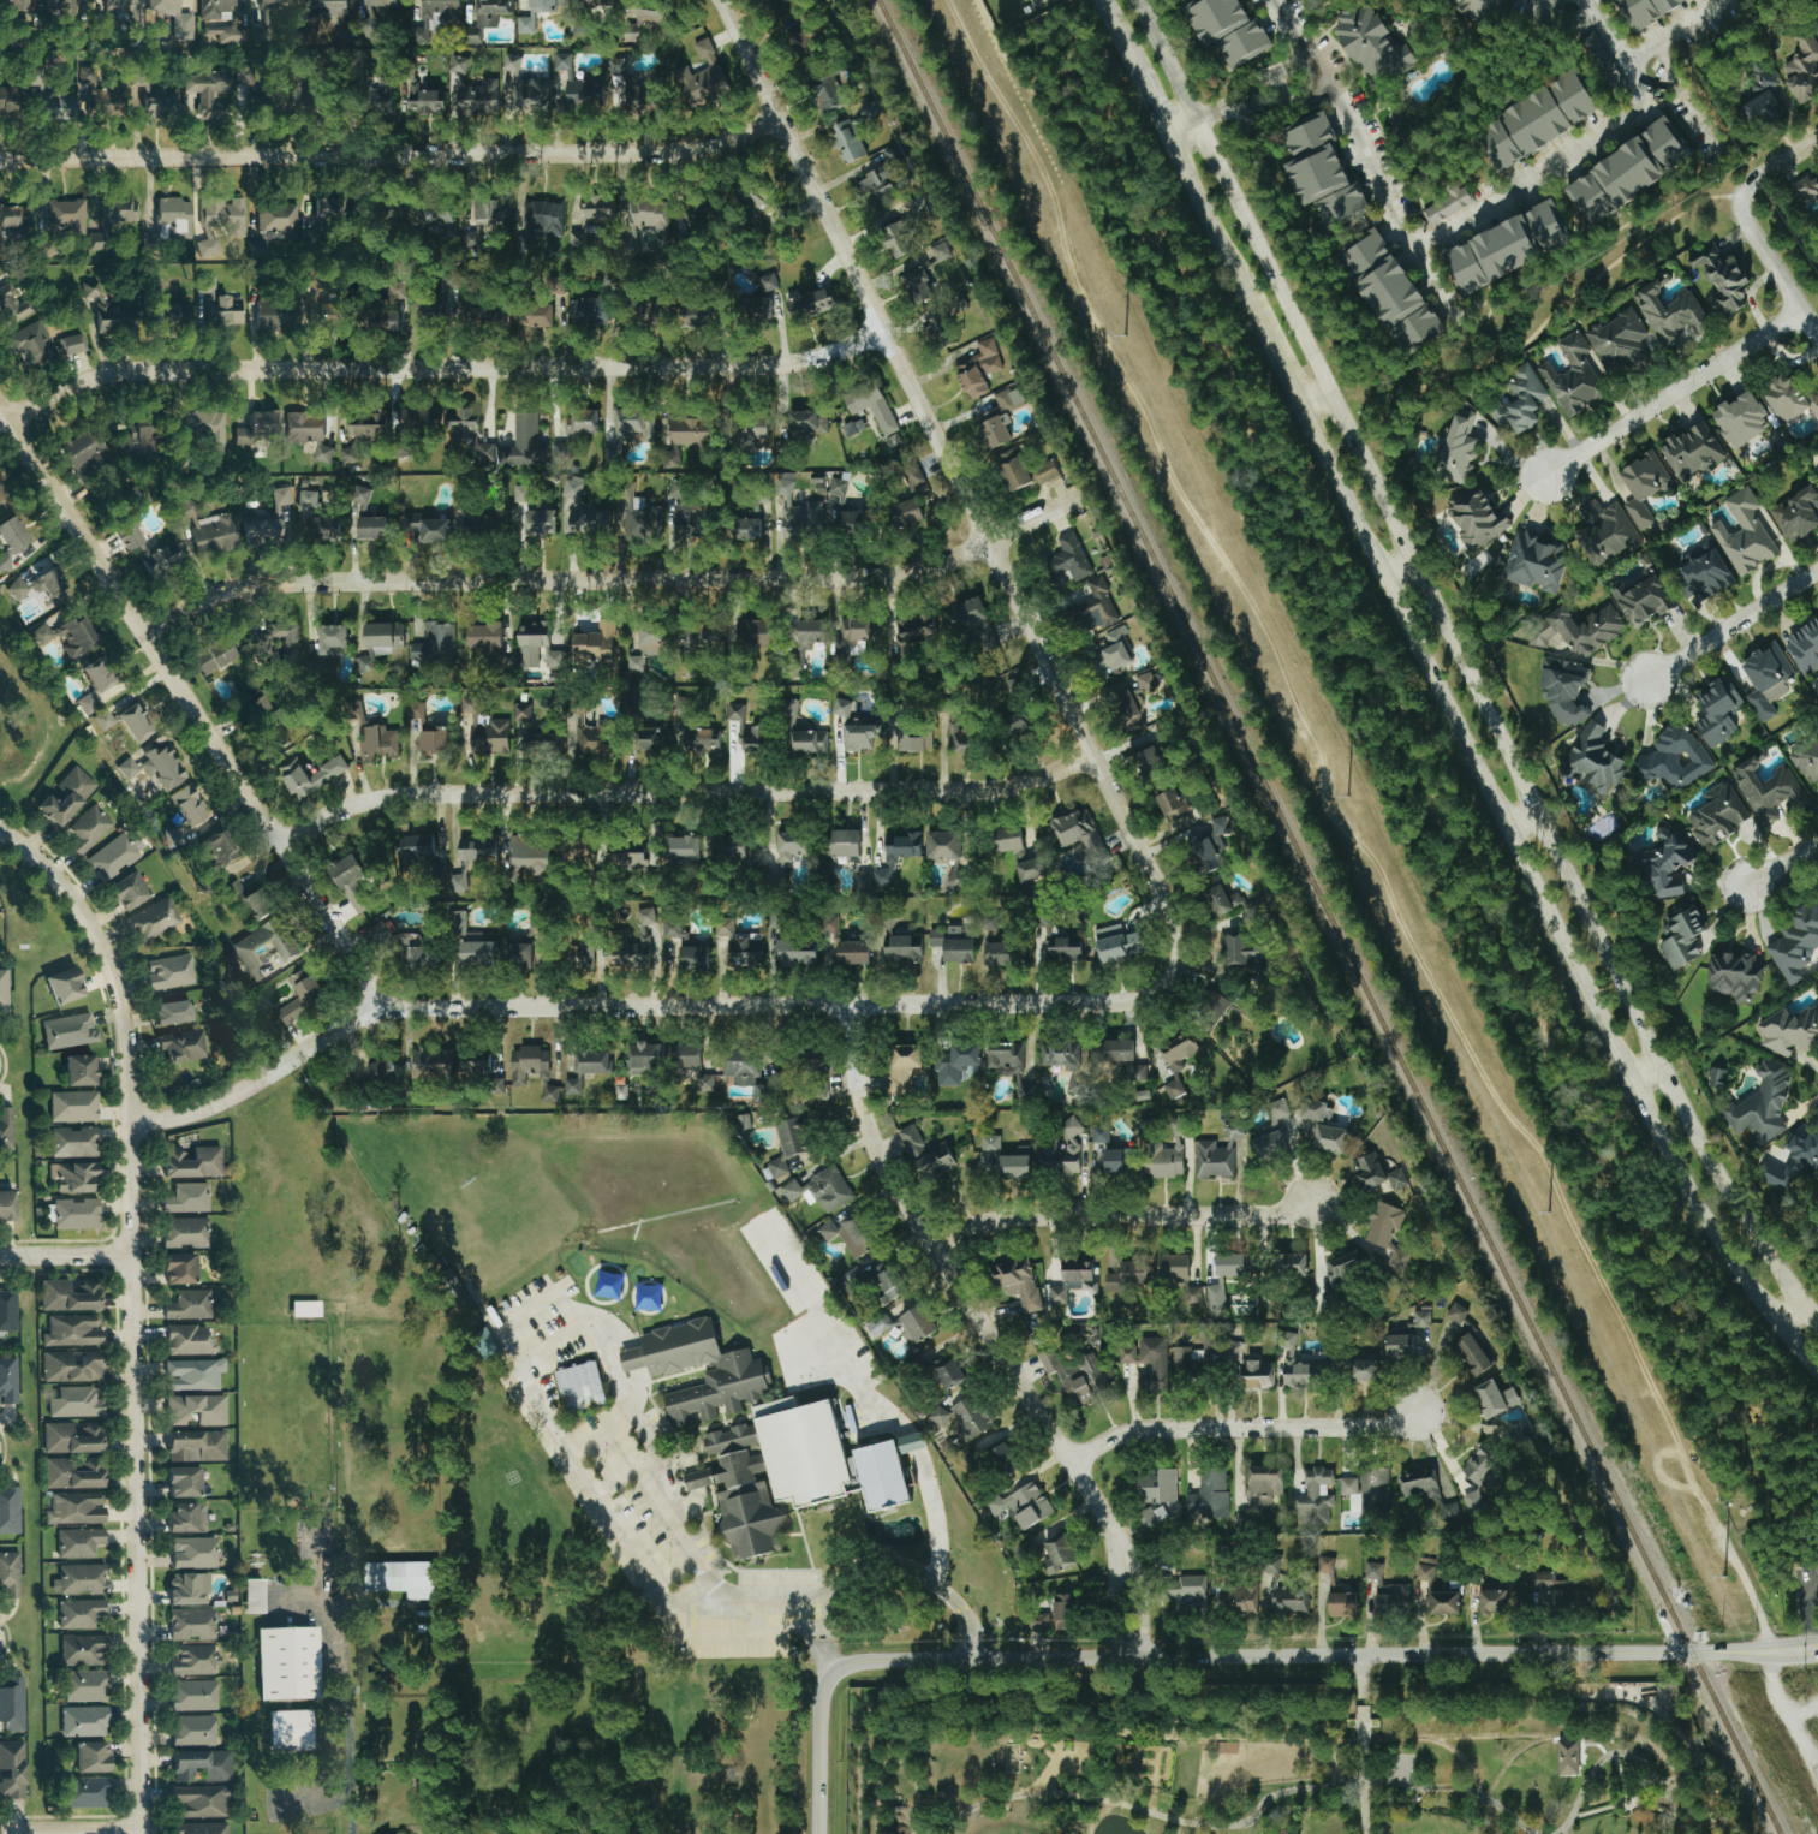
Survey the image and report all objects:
building: (592, 1)
building: (781, 1)
building: (378, 2)
building: (275, 4)
road: (1564, 4)
building: (329, 6)
building: (10, 7)
building: (59, 8)
building: (1477, 8)
building: (118, 11)
building: (1645, 11)
building: (489, 12)
building: (435, 13)
building: (530, 13)
building: (171, 17)
building: (220, 22)
building: (637, 22)
building: (579, 23)
building: (1227, 30)
building: (261, 35)
building: (470, 35)
road: (1121, 36)
building: (1372, 46)
road: (1647, 47)
building: (1802, 69)
road: (1266, 75)
building: (242, 76)
building: (702, 76)
building: (30, 78)
building: (602, 85)
building: (525, 89)
building: (99, 91)
building: (376, 94)
building: (827, 94)
building: (205, 95)
road: (1053, 96)
road: (1688, 96)
building: (7, 97)
building: (1762, 97)
building: (423, 100)
road: (1154, 101)
building: (159, 102)
building: (870, 112)
road: (1278, 112)
road: (1212, 113)
road: (1128, 115)
building: (1537, 120)
road: (1182, 124)
building: (846, 142)
road: (1366, 153)
road: (392, 155)
road: (1544, 160)
road: (1776, 163)
building: (1321, 171)
building: (1627, 173)
building: (881, 175)
building: (1805, 187)
building: (1444, 204)
building: (917, 208)
building: (326, 209)
building: (490, 213)
building: (221, 215)
building: (648, 215)
building: (14, 216)
building: (64, 216)
building: (436, 216)
building: (590, 218)
building: (172, 219)
building: (538, 222)
building: (109, 225)
building: (273, 227)
building: (473, 237)
building: (895, 238)
building: (1503, 250)
building: (938, 251)
road: (1774, 267)
building: (1722, 278)
building: (918, 284)
building: (1390, 290)
building: (758, 297)
building: (392, 303)
building: (810, 303)
building: (12, 304)
building: (317, 305)
building: (217, 306)
building: (451, 306)
building: (106, 309)
building: (171, 310)
building: (586, 310)
building: (534, 312)
building: (1668, 312)
building: (275, 314)
building: (937, 331)
power tower: (1123, 338)
building: (1617, 340)
building: (73, 343)
building: (32, 344)
road: (448, 365)
building: (978, 368)
building: (1572, 376)
road: (1674, 393)
building: (1789, 398)
road: (1318, 400)
building: (1519, 400)
building: (874, 411)
building: (999, 417)
building: (413, 418)
building: (1740, 418)
road: (8, 422)
building: (806, 422)
building: (579, 423)
building: (260, 425)
building: (365, 425)
building: (205, 427)
building: (625, 430)
building: (689, 431)
building: (746, 431)
building: (306, 433)
building: (465, 434)
building: (521, 442)
building: (1458, 447)
building: (400, 448)
building: (1692, 451)
building: (81, 453)
building: (347, 454)
building: (669, 458)
building: (1012, 468)
building: (1044, 471)
building: (910, 478)
building: (1643, 486)
building: (520, 493)
building: (571, 493)
building: (0, 495)
building: (305, 498)
road: (967, 502)
building: (905, 511)
building: (1796, 511)
building: (795, 512)
building: (270, 517)
building: (639, 517)
building: (1476, 517)
road: (1032, 519)
building: (538, 520)
building: (746, 520)
building: (848, 522)
building: (476, 524)
building: (321, 525)
building: (370, 526)
building: (424, 526)
building: (205, 529)
building: (1604, 530)
building: (11, 532)
building: (1744, 534)
building: (126, 535)
building: (159, 555)
building: (1069, 558)
building: (1534, 560)
road: (1396, 564)
building: (4, 566)
building: (1703, 572)
road: (562, 579)
building: (40, 586)
building: (1644, 600)
building: (1099, 602)
building: (965, 615)
road: (1733, 624)
building: (913, 627)
building: (1581, 629)
building: (856, 630)
building: (753, 632)
building: (40, 633)
building: (76, 633)
building: (483, 635)
building: (701, 635)
building: (382, 637)
building: (329, 638)
building: (275, 643)
building: (648, 643)
building: (434, 644)
building: (592, 644)
building: (535, 647)
building: (1804, 648)
building: (1115, 649)
building: (211, 655)
building: (365, 663)
road: (1467, 667)
building: (96, 674)
building: (1766, 678)
building: (1563, 687)
building: (1133, 693)
road: (189, 701)
building: (87, 703)
building: (1717, 710)
building: (520, 711)
building: (848, 713)
building: (893, 713)
building: (101, 720)
building: (269, 720)
building: (133, 722)
building: (1017, 724)
building: (424, 727)
building: (689, 727)
building: (483, 730)
building: (757, 730)
building: (954, 734)
building: (858, 737)
building: (594, 738)
building: (914, 738)
building: (650, 739)
building: (807, 740)
building: (376, 742)
building: (1673, 757)
building: (1151, 758)
road: (1477, 760)
building: (1592, 761)
building: (1807, 761)
building: (163, 766)
building: (309, 775)
building: (1766, 788)
road: (683, 790)
building: (64, 796)
power tower: (1347, 798)
building: (1170, 804)
building: (181, 812)
park: (1390, 815)
building: (1717, 815)
road: (1522, 817)
building: (1220, 826)
building: (85, 829)
building: (1075, 830)
building: (1009, 841)
building: (791, 845)
building: (942, 845)
building: (417, 846)
building: (683, 847)
building: (475, 848)
building: (579, 851)
building: (734, 851)
building: (1203, 853)
building: (113, 855)
building: (625, 855)
building: (847, 855)
building: (895, 855)
building: (527, 857)
road: (1783, 863)
building: (1663, 864)
building: (1030, 869)
building: (953, 875)
road: (1459, 877)
building: (350, 882)
building: (457, 883)
building: (233, 889)
building: (126, 891)
building: (1222, 899)
building: (255, 903)
building: (644, 916)
railway: (1328, 917)
building: (151, 919)
building: (534, 924)
building: (829, 924)
building: (989, 924)
building: (1042, 931)
building: (1680, 935)
building: (1074, 941)
building: (737, 943)
building: (1116, 943)
building: (1794, 943)
building: (952, 945)
building: (239, 947)
building: (685, 947)
building: (627, 948)
building: (475, 949)
building: (900, 949)
building: (1061, 949)
building: (793, 951)
building: (1239, 951)
building: (852, 952)
building: (999, 953)
building: (515, 954)
building: (577, 954)
building: (168, 971)
building: (1733, 976)
building: (1817, 982)
building: (62, 986)
building: (2, 988)
building: (297, 999)
road: (620, 1006)
building: (171, 1012)
building: (66, 1031)
building: (1789, 1031)
building: (179, 1046)
building: (1116, 1050)
building: (1059, 1054)
building: (644, 1058)
building: (473, 1061)
building: (954, 1062)
building: (430, 1064)
building: (1176, 1064)
building: (692, 1065)
building: (740, 1065)
building: (1008, 1065)
building: (901, 1066)
building: (585, 1068)
road: (1647, 1068)
building: (78, 1070)
building: (380, 1070)
building: (531, 1070)
building: (1716, 1078)
building: (496, 1084)
building: (1075, 1086)
building: (816, 1088)
building: (761, 1092)
building: (1762, 1103)
building: (71, 1107)
building: (1313, 1109)
building: (5, 1127)
building: (1271, 1132)
building: (1098, 1133)
building: (791, 1136)
building: (1329, 1138)
building: (73, 1142)
building: (911, 1142)
building: (1060, 1149)
building: (1216, 1155)
building: (1163, 1159)
building: (1115, 1160)
building: (1793, 1160)
building: (932, 1161)
building: (999, 1161)
building: (191, 1162)
building: (776, 1167)
building: (1376, 1175)
building: (73, 1177)
building: (819, 1190)
building: (185, 1198)
building: (6, 1205)
building: (74, 1214)
power tower: (1548, 1215)
road: (1139, 1216)
building: (183, 1232)
building: (846, 1234)
building: (1387, 1235)
road: (66, 1254)
building: (1228, 1262)
building: (1172, 1267)
building: (178, 1268)
building: (1127, 1276)
building: (1072, 1279)
building: (1017, 1282)
building: (883, 1286)
building: (67, 1296)
building: (1191, 1296)
building: (1214, 1298)
building: (459, 1300)
building: (187, 1305)
road: (133, 1308)
road: (529, 1309)
road: (1788, 1309)
building: (7, 1310)
building: (1455, 1314)
building: (1420, 1317)
building: (914, 1323)
building: (877, 1324)
building: (71, 1330)
road: (997, 1333)
building: (187, 1340)
road: (549, 1344)
building: (1399, 1345)
building: (1470, 1354)
building: (1204, 1356)
building: (1146, 1360)
building: (70, 1365)
building: (1299, 1368)
building: (1355, 1368)
building: (1073, 1372)
building: (949, 1374)
building: (193, 1375)
building: (1257, 1375)
building: (7, 1381)
building: (578, 1386)
building: (1494, 1398)
building: (74, 1403)
building: (195, 1410)
building: (937, 1416)
building: (968, 1417)
road: (1258, 1429)
building: (1512, 1431)
building: (765, 1435)
building: (70, 1437)
building: (912, 1442)
building: (195, 1446)
building: (1003, 1459)
building: (1483, 1465)
building: (71, 1473)
road: (624, 1473)
building: (181, 1482)
building: (1264, 1484)
building: (1418, 1484)
building: (1156, 1485)
building: (1366, 1491)
building: (1211, 1493)
building: (1313, 1497)
building: (1021, 1506)
building: (1473, 1506)
building: (73, 1508)
building: (8, 1510)
building: (1448, 1514)
building: (1151, 1516)
building: (185, 1518)
building: (77, 1542)
building: (1060, 1552)
building: (192, 1553)
road: (692, 1556)
road: (904, 1564)
parking lot: (1807, 1570)
building: (8, 1574)
building: (1373, 1574)
building: (400, 1578)
power tower: (1724, 1578)
building: (78, 1579)
building: (187, 1589)
building: (1184, 1589)
building: (1336, 1589)
building: (1281, 1590)
road: (663, 1591)
road: (689, 1592)
building: (1552, 1592)
building: (251, 1596)
building: (1432, 1596)
building: (1238, 1597)
building: (1492, 1602)
building: (1387, 1604)
road: (1806, 1612)
building: (78, 1613)
building: (1053, 1616)
road: (322, 1620)
building: (190, 1624)
building: (82, 1650)
road: (1240, 1655)
building: (190, 1660)
building: (287, 1663)
building: (83, 1686)
building: (192, 1696)
building: (11, 1705)
building: (1361, 1716)
road: (1072, 1717)
building: (82, 1722)
building: (191, 1731)
building: (288, 1731)
railway: (1284, 1739)
building: (1595, 1740)
road: (1361, 1744)
road: (347, 1747)
road: (1620, 1753)
building: (89, 1757)
building: (1567, 1757)
railway: (1464, 1763)
building: (201, 1765)
building: (11, 1770)
railway: (1501, 1772)
road: (1617, 1774)
building: (85, 1792)
building: (201, 1802)
road: (1620, 1805)
road: (1655, 1810)
road: (1593, 1811)
road: (1239, 1824)
building: (201, 1828)

